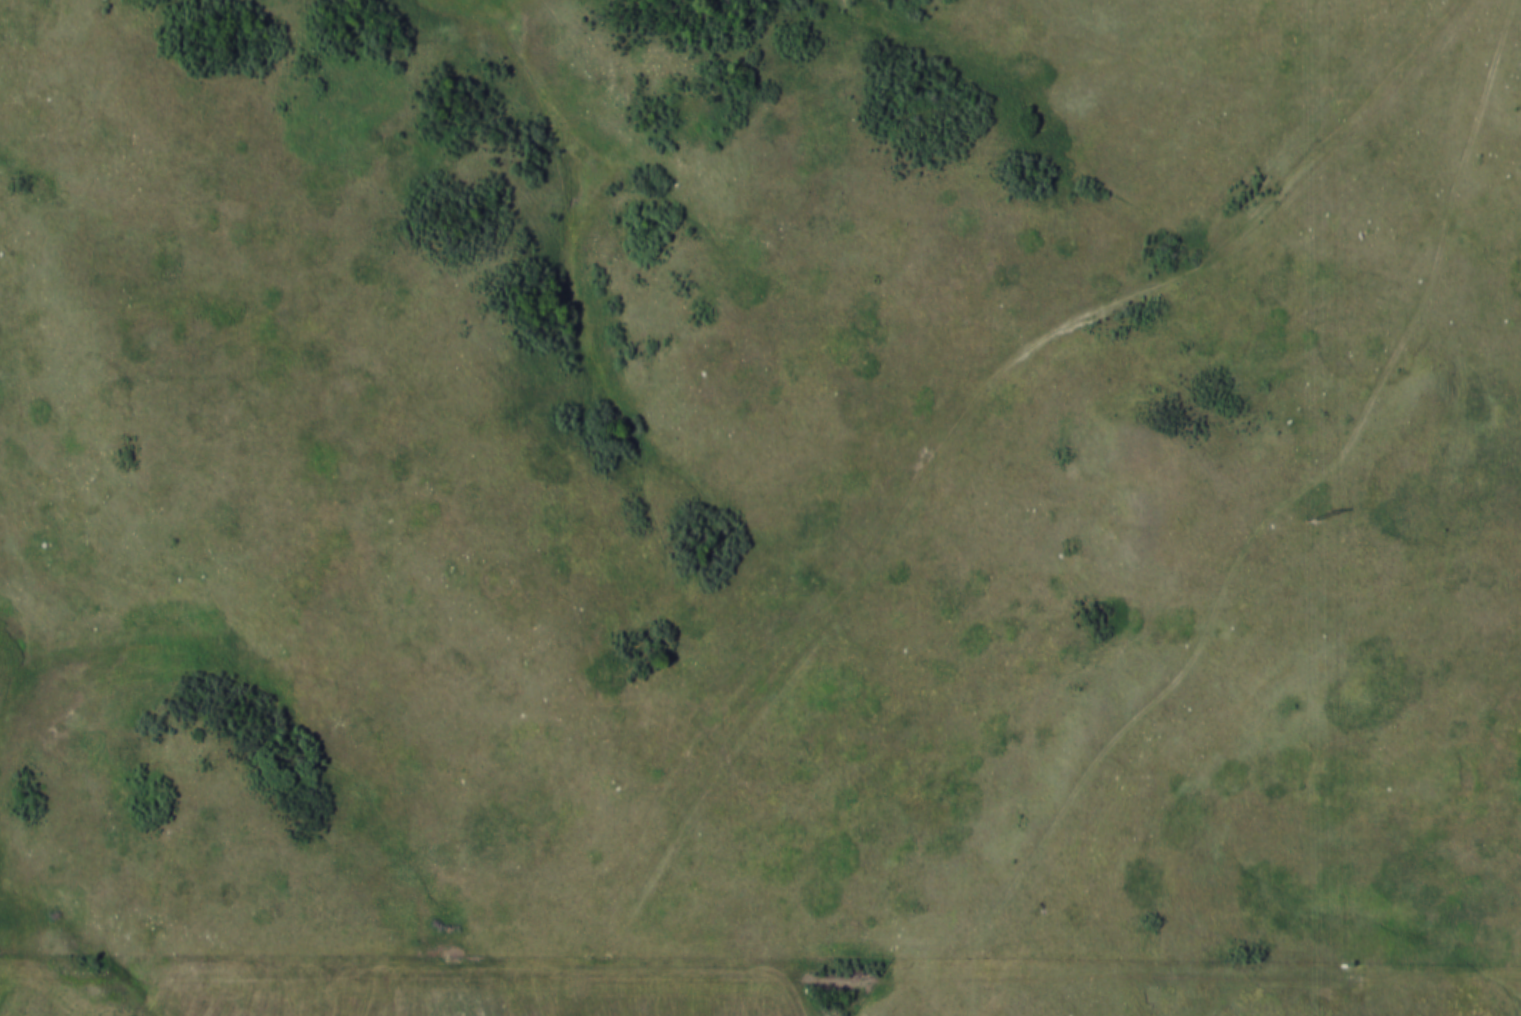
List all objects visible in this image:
power tower: (1317, 521)

